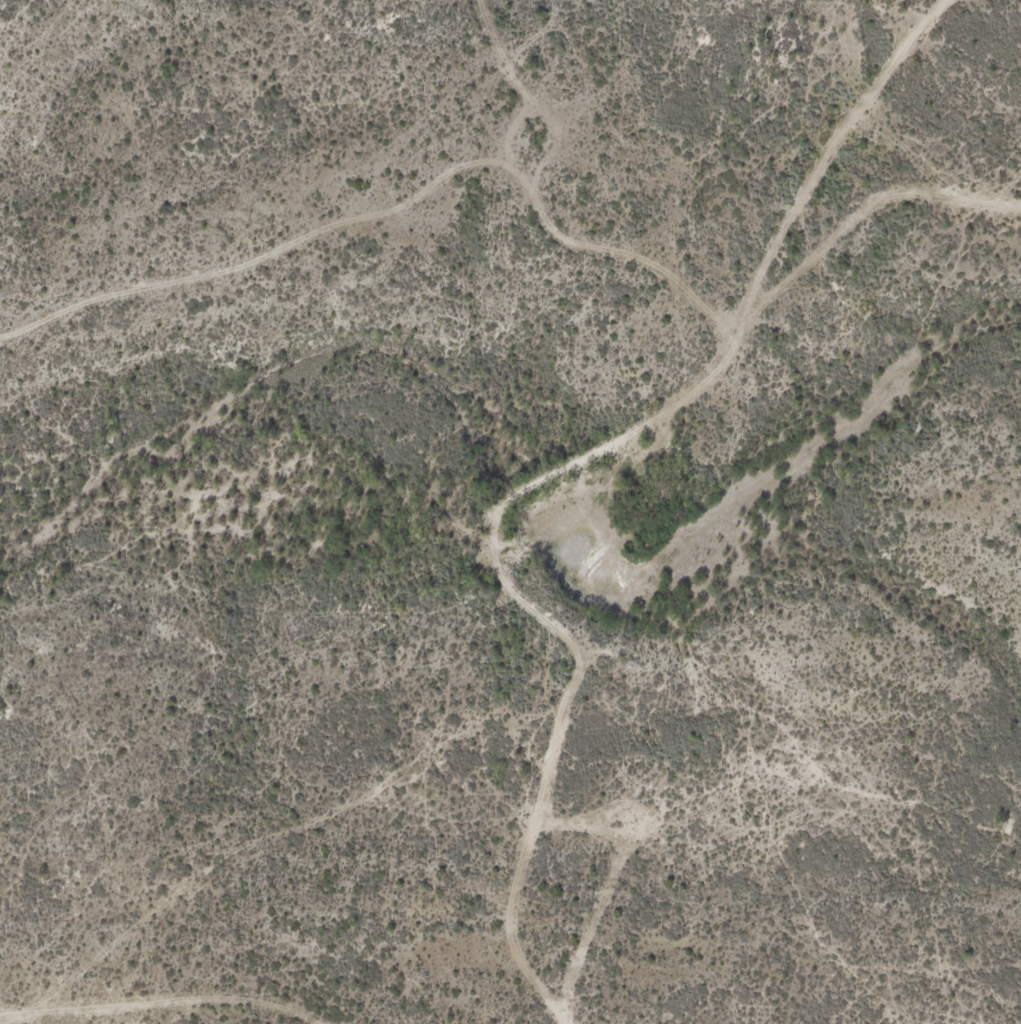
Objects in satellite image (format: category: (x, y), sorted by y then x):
road: (189, 992)

